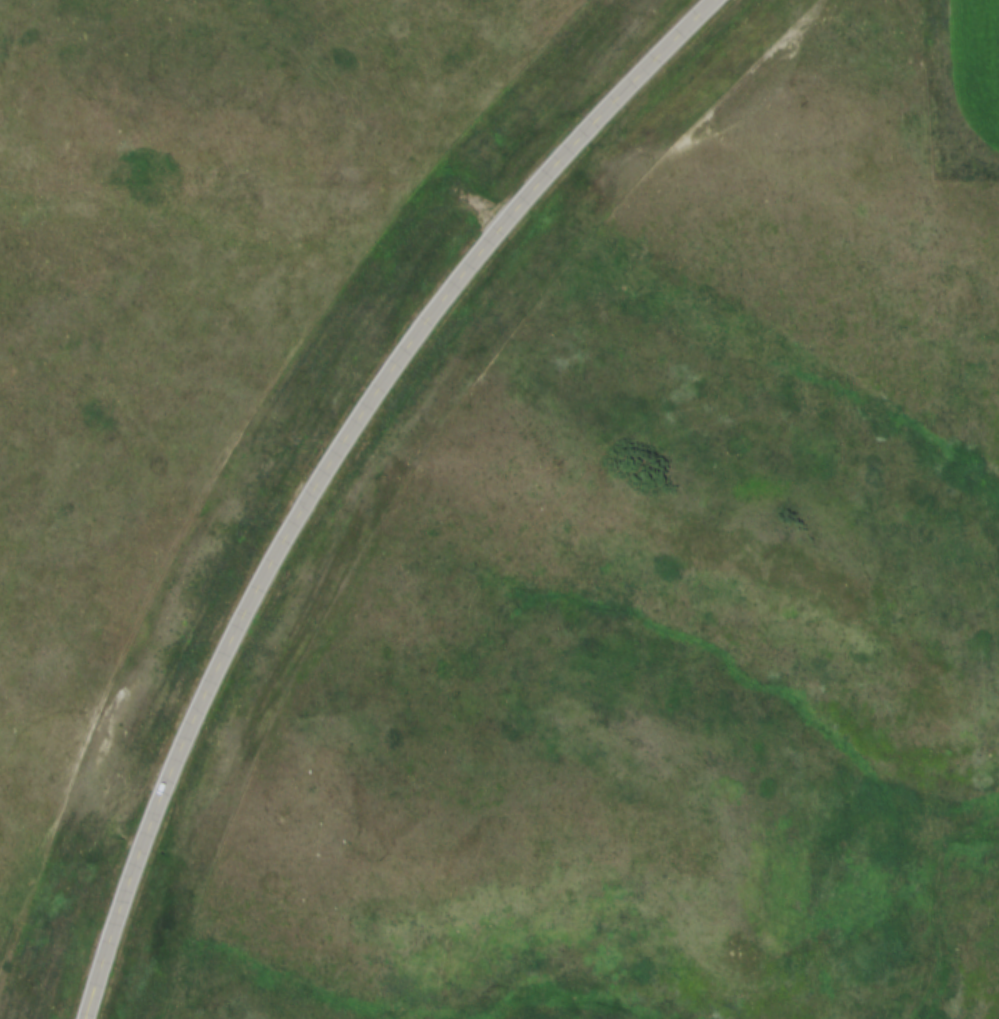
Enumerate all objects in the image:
road: (330, 465)

